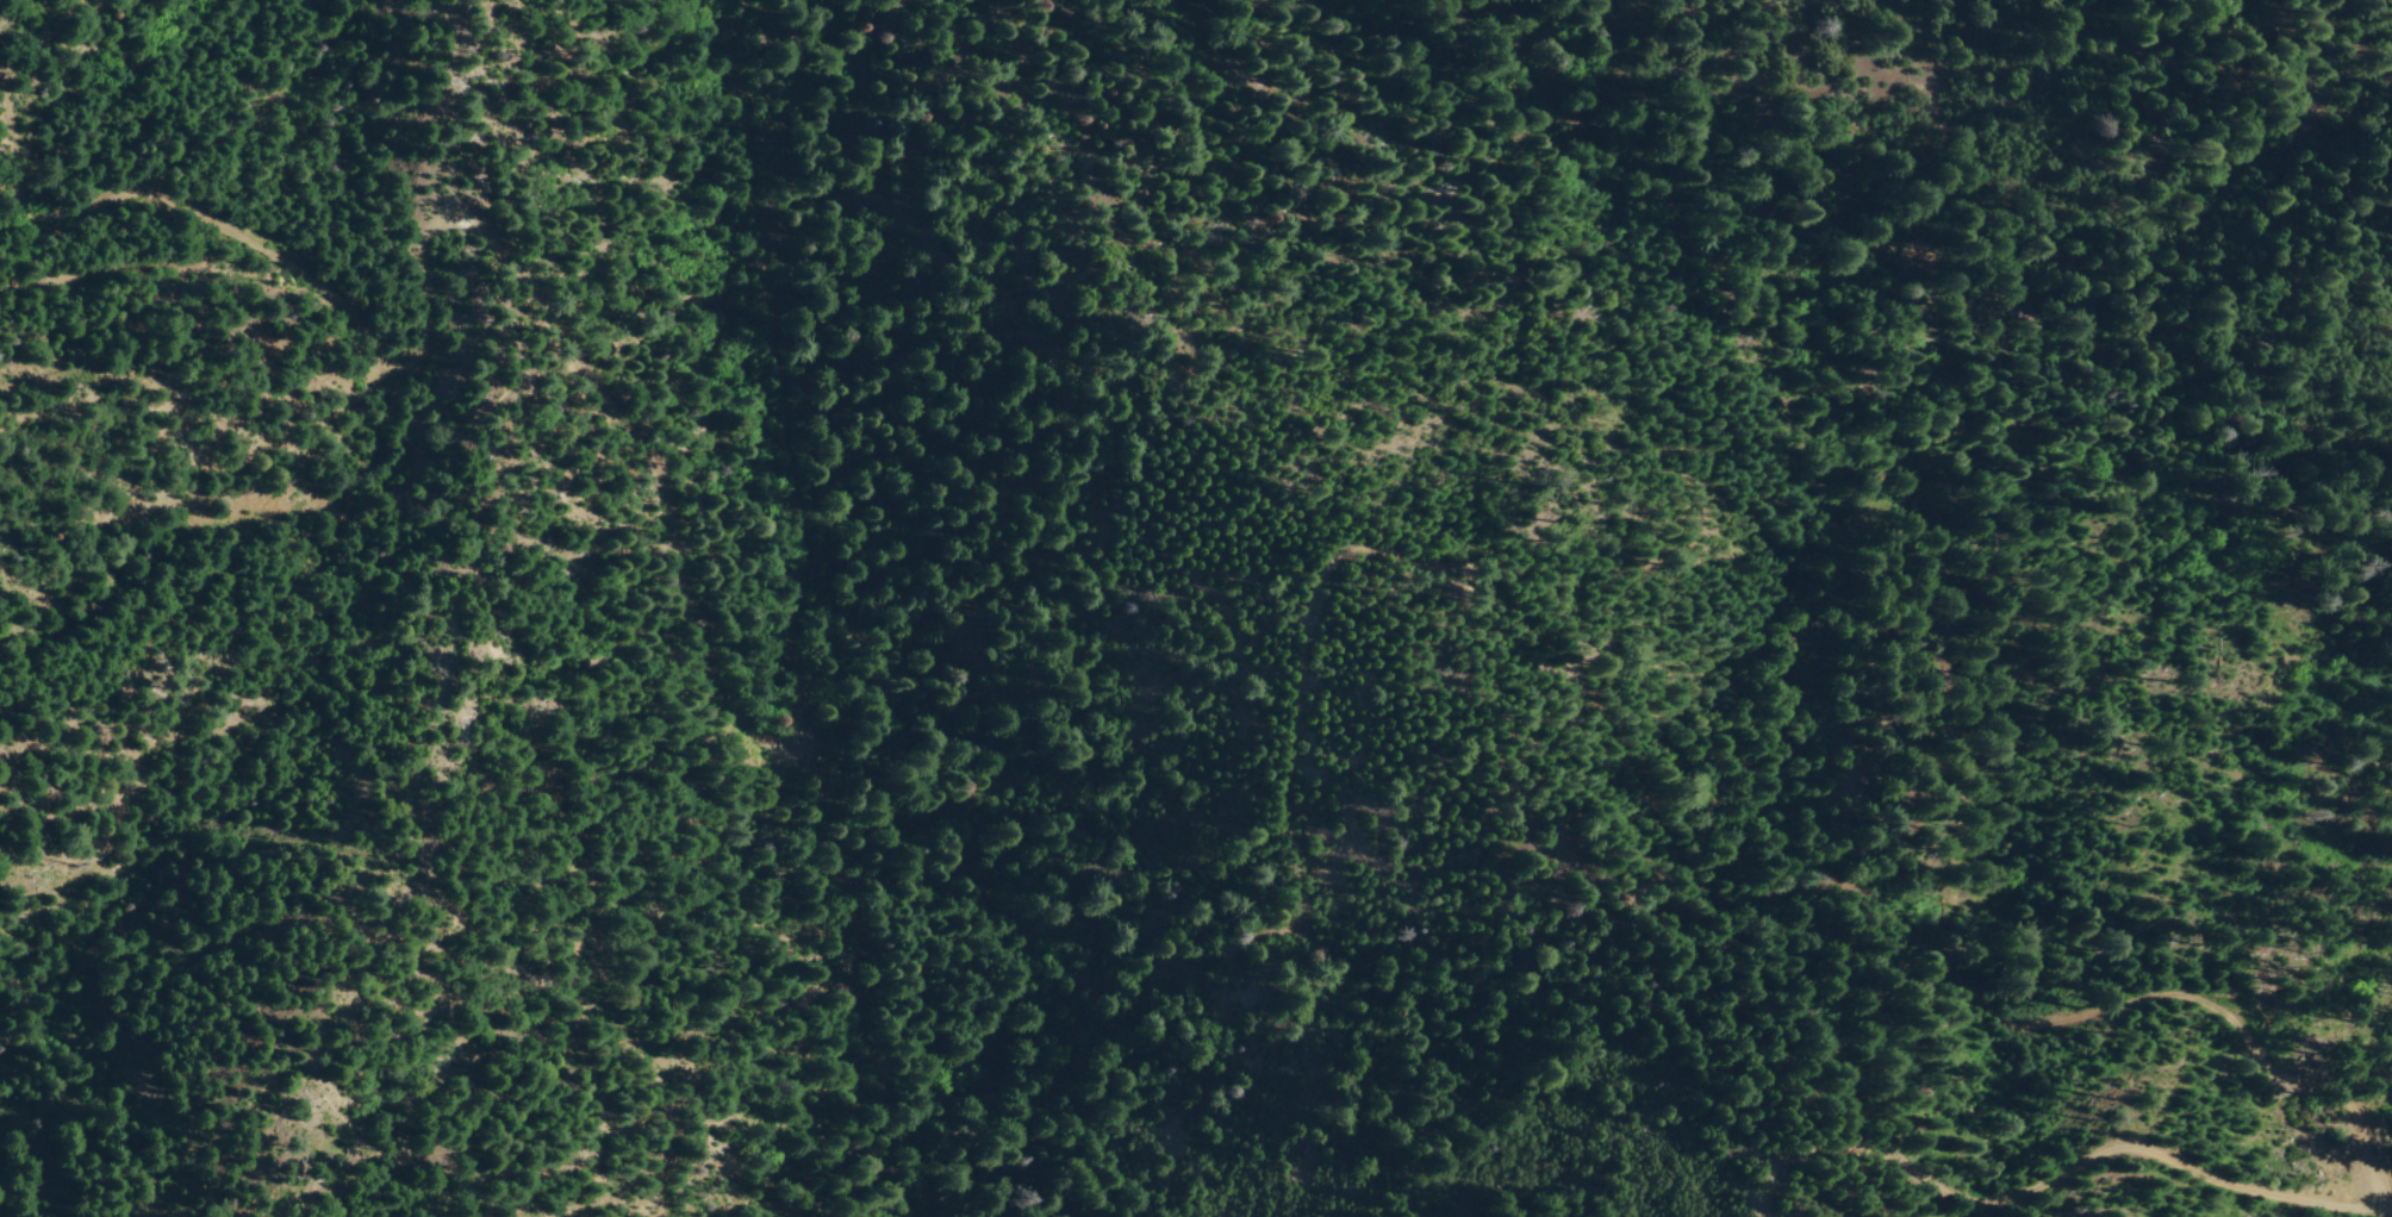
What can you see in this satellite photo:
road: (680, 580)
road: (1607, 734)
road: (2052, 1198)

